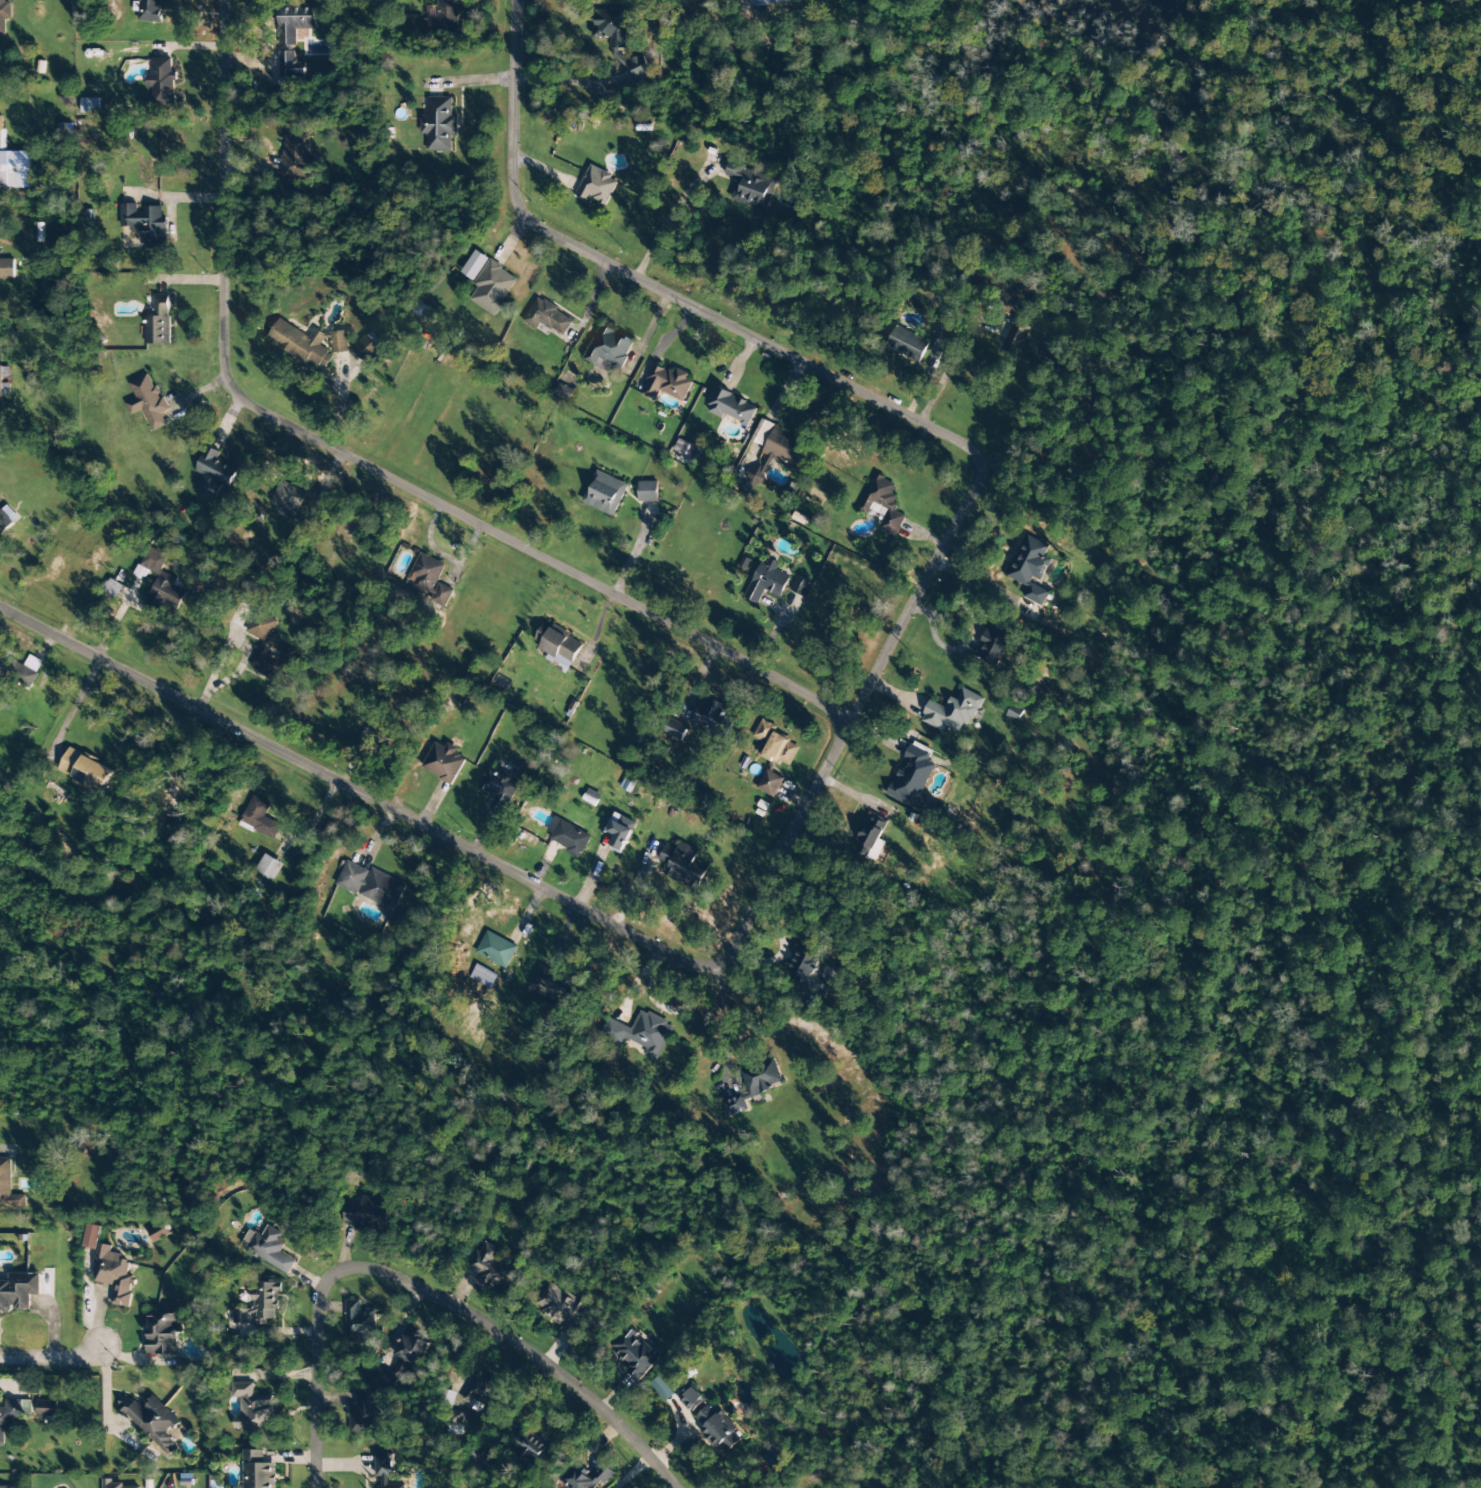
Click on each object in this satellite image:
building: (762, 2)
building: (4, 15)
building: (443, 19)
building: (297, 21)
building: (619, 40)
building: (290, 71)
road: (558, 81)
building: (163, 82)
building: (90, 105)
building: (439, 124)
building: (296, 157)
building: (13, 164)
building: (597, 186)
building: (751, 186)
building: (146, 224)
building: (474, 265)
building: (7, 269)
building: (492, 287)
road: (693, 300)
building: (547, 317)
building: (158, 322)
building: (940, 337)
building: (339, 342)
building: (301, 344)
building: (907, 344)
building: (1028, 347)
building: (609, 348)
building: (365, 349)
building: (665, 383)
building: (0, 391)
building: (564, 392)
building: (148, 402)
building: (731, 407)
building: (781, 445)
building: (683, 448)
road: (364, 458)
building: (214, 473)
building: (647, 491)
building: (604, 493)
building: (288, 498)
building: (882, 503)
building: (7, 519)
building: (1031, 569)
building: (425, 573)
building: (767, 581)
building: (159, 585)
building: (800, 587)
building: (441, 595)
road: (894, 625)
road: (228, 637)
building: (558, 646)
building: (991, 648)
building: (268, 649)
building: (20, 670)
building: (953, 712)
building: (713, 719)
building: (776, 746)
building: (443, 762)
building: (86, 772)
building: (912, 778)
building: (628, 784)
building: (770, 784)
building: (499, 789)
building: (620, 831)
building: (870, 834)
building: (568, 837)
road: (482, 862)
building: (683, 866)
building: (270, 867)
building: (371, 885)
building: (496, 949)
building: (808, 971)
building: (553, 984)
building: (640, 1033)
building: (753, 1086)
building: (88, 1149)
building: (8, 1188)
building: (367, 1214)
building: (159, 1233)
building: (270, 1250)
building: (110, 1268)
building: (489, 1268)
building: (18, 1292)
road: (428, 1294)
building: (261, 1306)
building: (562, 1309)
building: (359, 1322)
building: (164, 1329)
building: (414, 1349)
building: (635, 1353)
road: (60, 1359)
building: (382, 1377)
building: (662, 1389)
building: (482, 1392)
building: (690, 1399)
building: (252, 1408)
building: (48, 1409)
building: (366, 1413)
building: (10, 1417)
building: (153, 1422)
building: (718, 1429)
building: (528, 1448)
building: (485, 1460)
building: (385, 1470)
building: (818, 1472)
building: (586, 1478)
building: (112, 1484)
building: (6, 1487)

